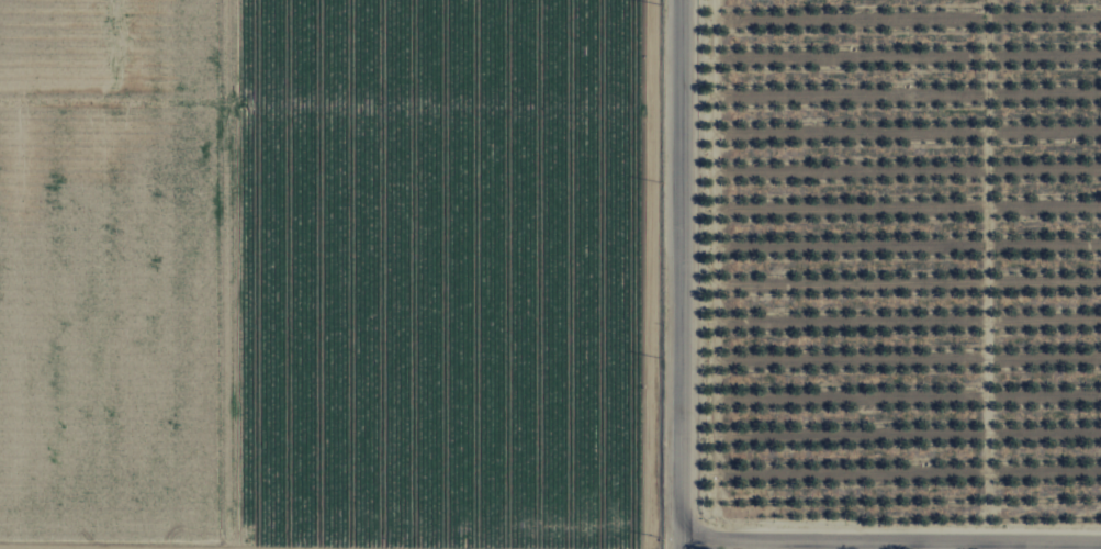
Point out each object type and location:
road: (650, 49)
road: (325, 98)
crop: (333, 273)
road: (681, 273)
road: (890, 539)
road: (111, 548)

